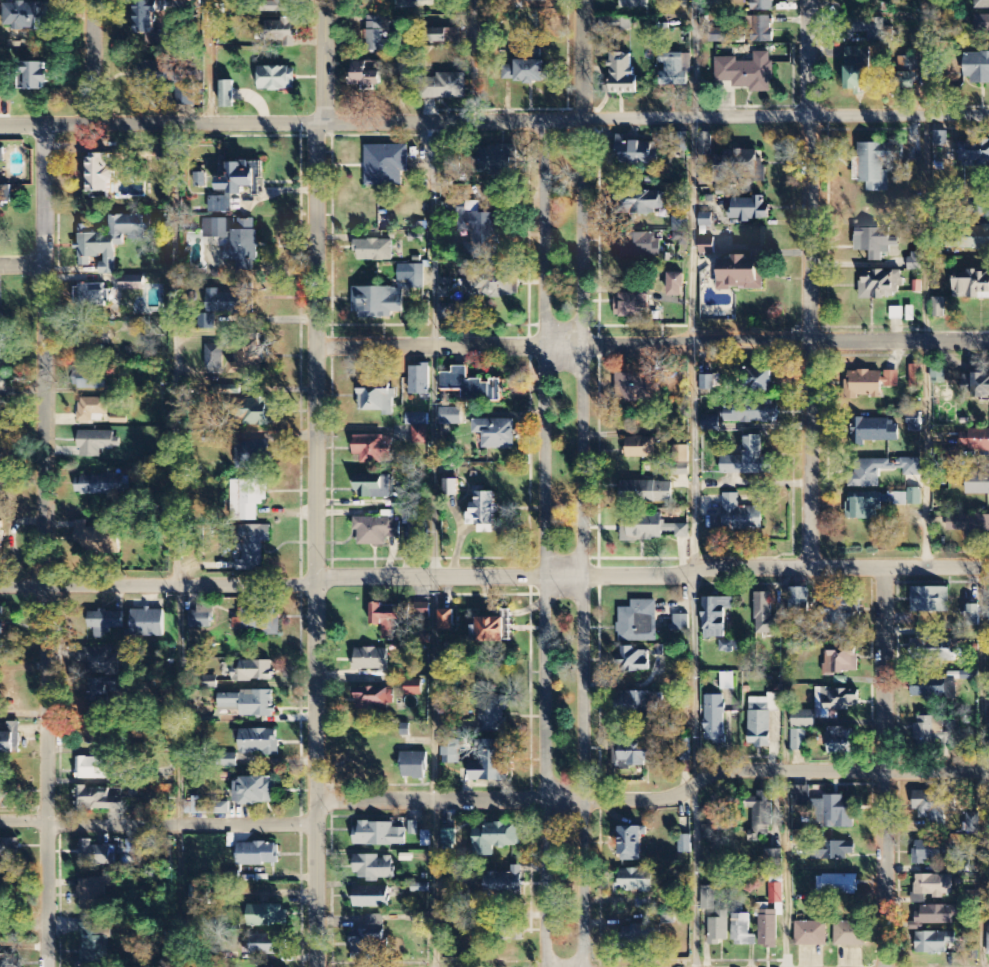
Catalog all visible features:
building: (408, 0)
building: (187, 1)
building: (533, 4)
building: (634, 4)
building: (981, 4)
building: (762, 5)
building: (276, 6)
building: (23, 17)
building: (616, 24)
building: (981, 24)
building: (869, 28)
building: (762, 29)
building: (277, 32)
building: (378, 33)
building: (444, 35)
building: (719, 36)
road: (324, 60)
road: (472, 60)
road: (580, 60)
road: (92, 61)
road: (206, 61)
building: (857, 67)
building: (976, 67)
building: (675, 69)
building: (526, 71)
building: (745, 72)
building: (622, 73)
building: (906, 74)
building: (150, 75)
building: (366, 75)
building: (35, 77)
building: (2, 78)
building: (276, 79)
building: (445, 86)
building: (226, 94)
road: (494, 121)
building: (940, 138)
building: (682, 142)
building: (705, 144)
building: (636, 153)
building: (974, 154)
building: (2, 155)
building: (490, 161)
building: (385, 165)
building: (740, 166)
building: (99, 172)
building: (236, 185)
building: (640, 202)
building: (749, 209)
building: (705, 218)
building: (680, 225)
building: (216, 229)
building: (967, 239)
building: (111, 240)
building: (873, 242)
building: (243, 245)
building: (639, 246)
building: (707, 246)
building: (373, 250)
building: (914, 261)
road: (21, 264)
building: (740, 273)
road: (809, 283)
building: (132, 284)
building: (675, 285)
building: (882, 285)
building: (972, 286)
building: (91, 295)
building: (387, 295)
building: (225, 301)
building: (448, 304)
building: (630, 304)
building: (938, 308)
building: (896, 314)
building: (206, 322)
building: (92, 339)
road: (652, 342)
building: (248, 356)
building: (214, 358)
building: (2, 363)
building: (939, 375)
building: (916, 376)
building: (892, 379)
building: (86, 380)
building: (419, 380)
building: (760, 380)
building: (710, 382)
building: (863, 384)
building: (470, 386)
building: (981, 387)
building: (642, 388)
road: (22, 398)
building: (377, 401)
building: (91, 409)
building: (255, 412)
building: (752, 414)
building: (450, 417)
building: (417, 420)
building: (710, 423)
building: (914, 426)
building: (879, 430)
building: (419, 436)
building: (975, 440)
building: (96, 443)
building: (641, 448)
building: (373, 449)
building: (251, 455)
building: (747, 459)
building: (681, 461)
building: (911, 467)
building: (869, 473)
building: (977, 483)
building: (101, 485)
building: (374, 487)
building: (450, 488)
building: (646, 493)
building: (909, 498)
building: (247, 499)
building: (482, 509)
building: (863, 509)
building: (740, 515)
building: (968, 525)
building: (376, 531)
building: (644, 531)
building: (677, 531)
building: (0, 539)
building: (91, 539)
road: (316, 543)
road: (46, 545)
road: (581, 545)
road: (543, 546)
building: (253, 548)
road: (495, 576)
building: (929, 601)
building: (799, 602)
building: (837, 612)
building: (765, 615)
building: (972, 616)
building: (201, 617)
building: (715, 617)
building: (389, 619)
building: (447, 620)
building: (104, 622)
building: (261, 622)
building: (1, 623)
building: (147, 623)
building: (638, 623)
building: (680, 624)
building: (491, 630)
building: (730, 647)
building: (930, 648)
building: (371, 660)
building: (634, 661)
building: (98, 662)
building: (841, 663)
building: (252, 672)
road: (695, 679)
building: (727, 682)
building: (413, 688)
building: (100, 689)
building: (930, 692)
building: (371, 698)
building: (839, 700)
building: (246, 704)
building: (638, 704)
building: (493, 714)
building: (714, 719)
building: (762, 720)
building: (803, 720)
building: (94, 730)
building: (930, 732)
building: (798, 741)
building: (841, 741)
building: (258, 743)
building: (6, 744)
building: (451, 753)
building: (638, 755)
building: (490, 763)
building: (414, 766)
road: (883, 767)
building: (91, 769)
road: (841, 770)
road: (696, 785)
building: (255, 791)
building: (4, 796)
building: (99, 800)
road: (505, 800)
building: (206, 807)
building: (934, 807)
building: (827, 808)
building: (760, 814)
road: (158, 823)
building: (972, 823)
building: (684, 824)
building: (714, 827)
building: (378, 835)
building: (449, 838)
building: (496, 839)
building: (630, 845)
building: (684, 845)
building: (9, 848)
building: (830, 851)
building: (929, 852)
building: (96, 855)
building: (257, 855)
building: (775, 857)
building: (374, 868)
road: (693, 877)
building: (635, 882)
building: (504, 883)
building: (837, 886)
building: (932, 886)
building: (420, 889)
building: (92, 893)
building: (776, 894)
building: (371, 899)
building: (708, 899)
building: (937, 915)
building: (266, 917)
building: (420, 921)
road: (23, 927)
building: (767, 928)
building: (718, 930)
building: (742, 932)
building: (810, 934)
building: (849, 935)
building: (638, 937)
building: (369, 940)
building: (988, 941)
building: (93, 943)
building: (933, 943)
building: (264, 951)
building: (9, 960)

